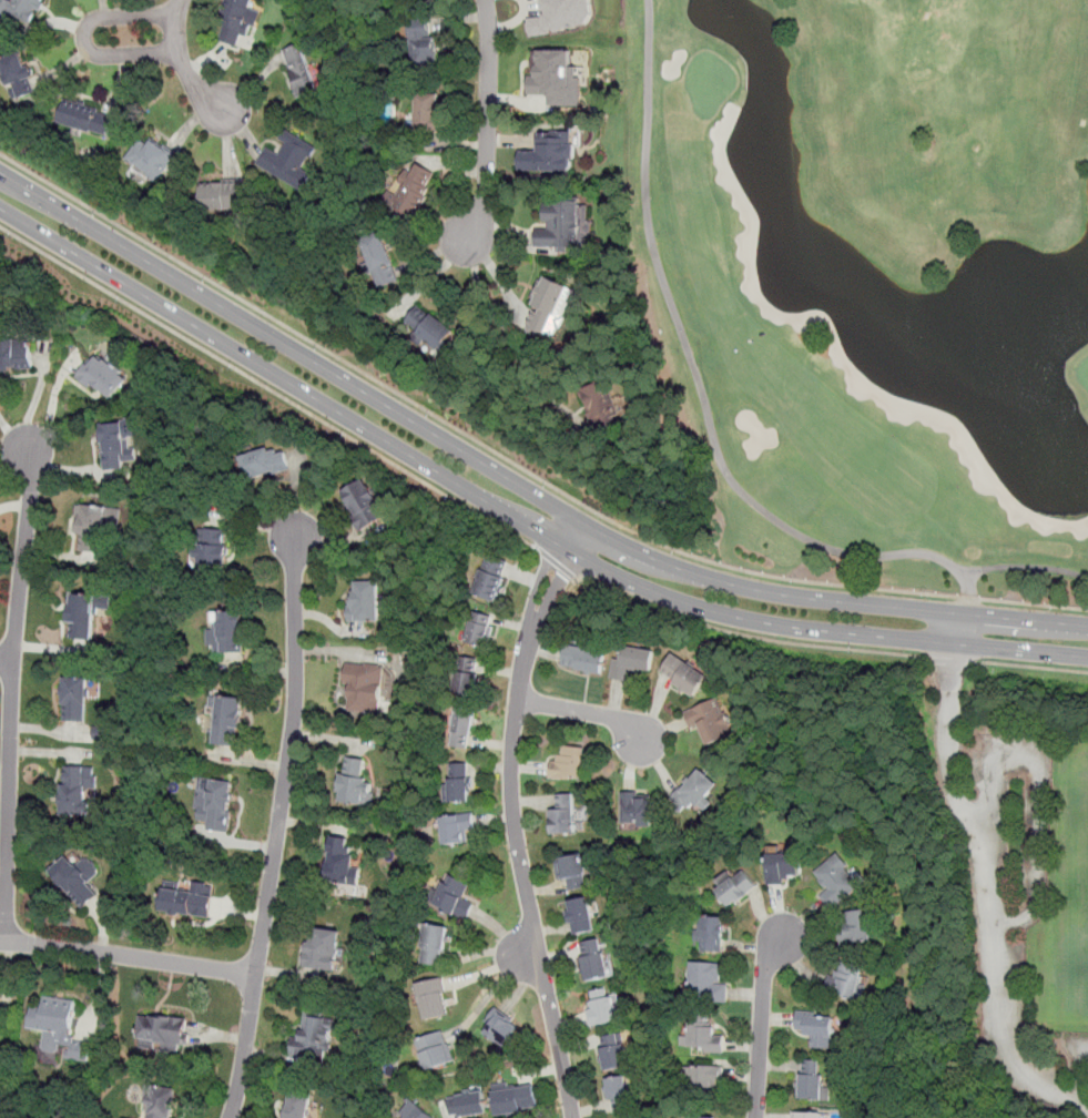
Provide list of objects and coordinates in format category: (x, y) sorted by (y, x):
building: (20, 9)
building: (562, 16)
building: (237, 20)
road: (85, 38)
building: (424, 44)
road: (182, 61)
building: (299, 69)
building: (16, 74)
building: (555, 77)
building: (428, 111)
building: (85, 116)
road: (487, 122)
building: (549, 152)
building: (152, 156)
building: (291, 159)
building: (411, 189)
building: (220, 194)
building: (561, 224)
building: (378, 258)
road: (430, 276)
park: (877, 276)
road: (497, 277)
building: (550, 305)
building: (428, 326)
building: (16, 355)
building: (103, 378)
road: (271, 389)
building: (600, 403)
road: (711, 429)
building: (116, 445)
building: (265, 460)
road: (515, 464)
road: (515, 481)
road: (456, 485)
building: (364, 504)
building: (93, 525)
building: (210, 548)
road: (558, 566)
building: (491, 579)
building: (364, 601)
building: (82, 616)
building: (479, 629)
road: (957, 629)
building: (225, 632)
road: (748, 636)
road: (1021, 650)
road: (6, 658)
building: (583, 659)
road: (950, 660)
building: (632, 661)
road: (1030, 665)
building: (683, 677)
building: (469, 682)
building: (365, 687)
road: (11, 692)
building: (75, 699)
road: (581, 710)
building: (227, 721)
building: (712, 723)
building: (462, 726)
road: (953, 745)
road: (289, 754)
building: (568, 763)
building: (355, 782)
building: (457, 783)
building: (78, 789)
building: (695, 791)
road: (1043, 792)
building: (216, 805)
building: (639, 809)
building: (563, 814)
road: (512, 815)
building: (456, 827)
parking lot: (1026, 833)
building: (340, 860)
park: (1001, 862)
building: (783, 867)
building: (571, 870)
road: (997, 877)
building: (78, 881)
building: (837, 882)
building: (736, 888)
building: (454, 896)
park: (1082, 897)
building: (186, 900)
building: (581, 914)
building: (856, 928)
building: (713, 933)
building: (435, 945)
building: (323, 947)
road: (128, 955)
building: (593, 958)
building: (847, 980)
building: (709, 982)
building: (434, 998)
building: (602, 1005)
road: (762, 1023)
building: (58, 1027)
building: (501, 1027)
building: (816, 1027)
building: (163, 1029)
road: (1007, 1034)
building: (704, 1036)
building: (315, 1037)
road: (245, 1046)
building: (435, 1050)
building: (612, 1050)
building: (704, 1076)
building: (811, 1079)
road: (1084, 1083)
building: (618, 1092)
building: (516, 1097)
building: (162, 1101)
building: (467, 1104)
building: (297, 1105)
building: (415, 1111)
building: (807, 1115)
building: (705, 1117)

